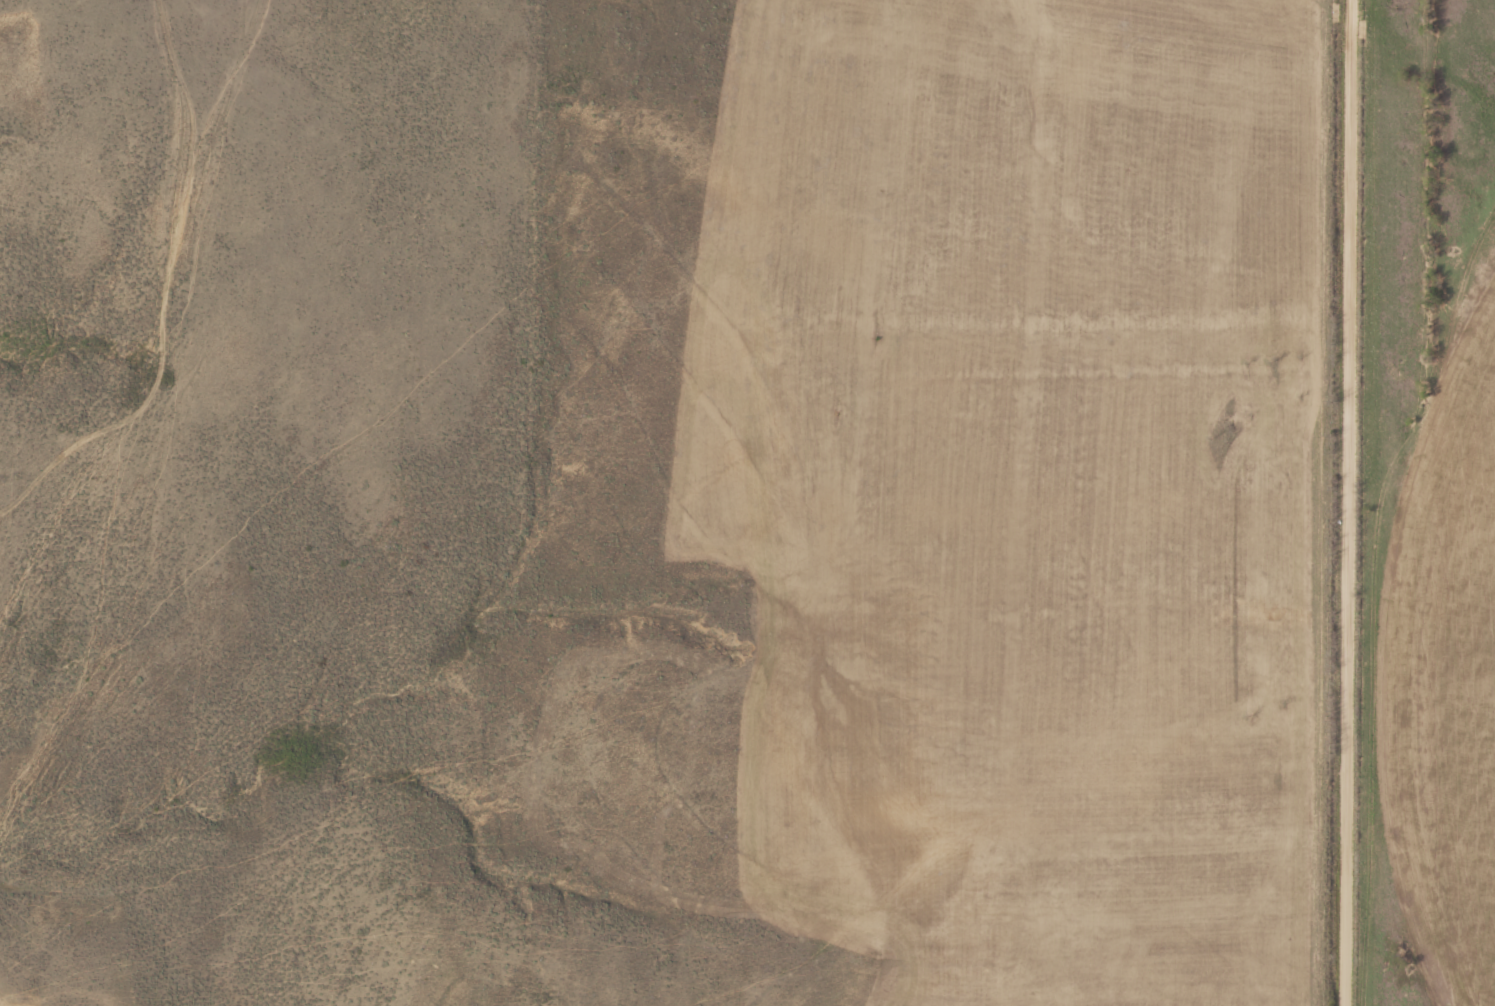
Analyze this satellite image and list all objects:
road: (1344, 503)

